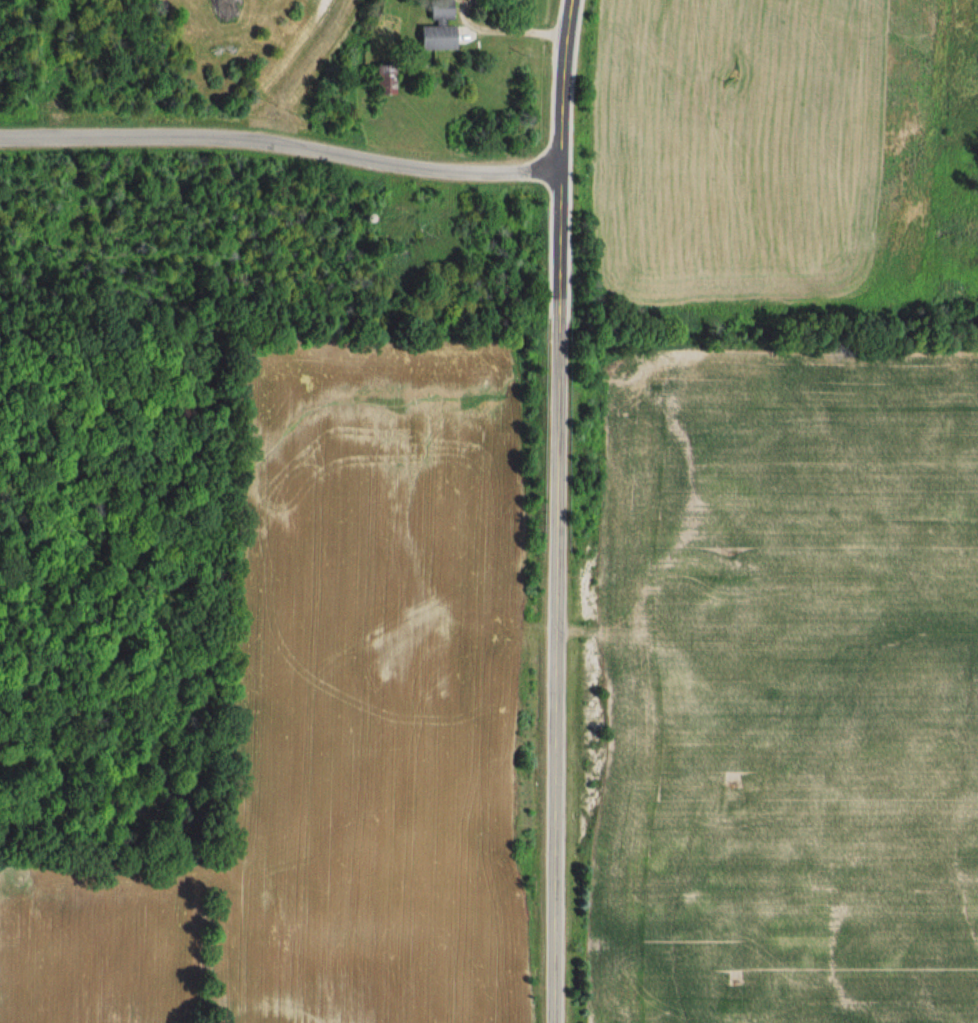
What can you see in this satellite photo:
building: (438, 27)
road: (506, 30)
building: (383, 79)
road: (283, 145)
road: (559, 511)

